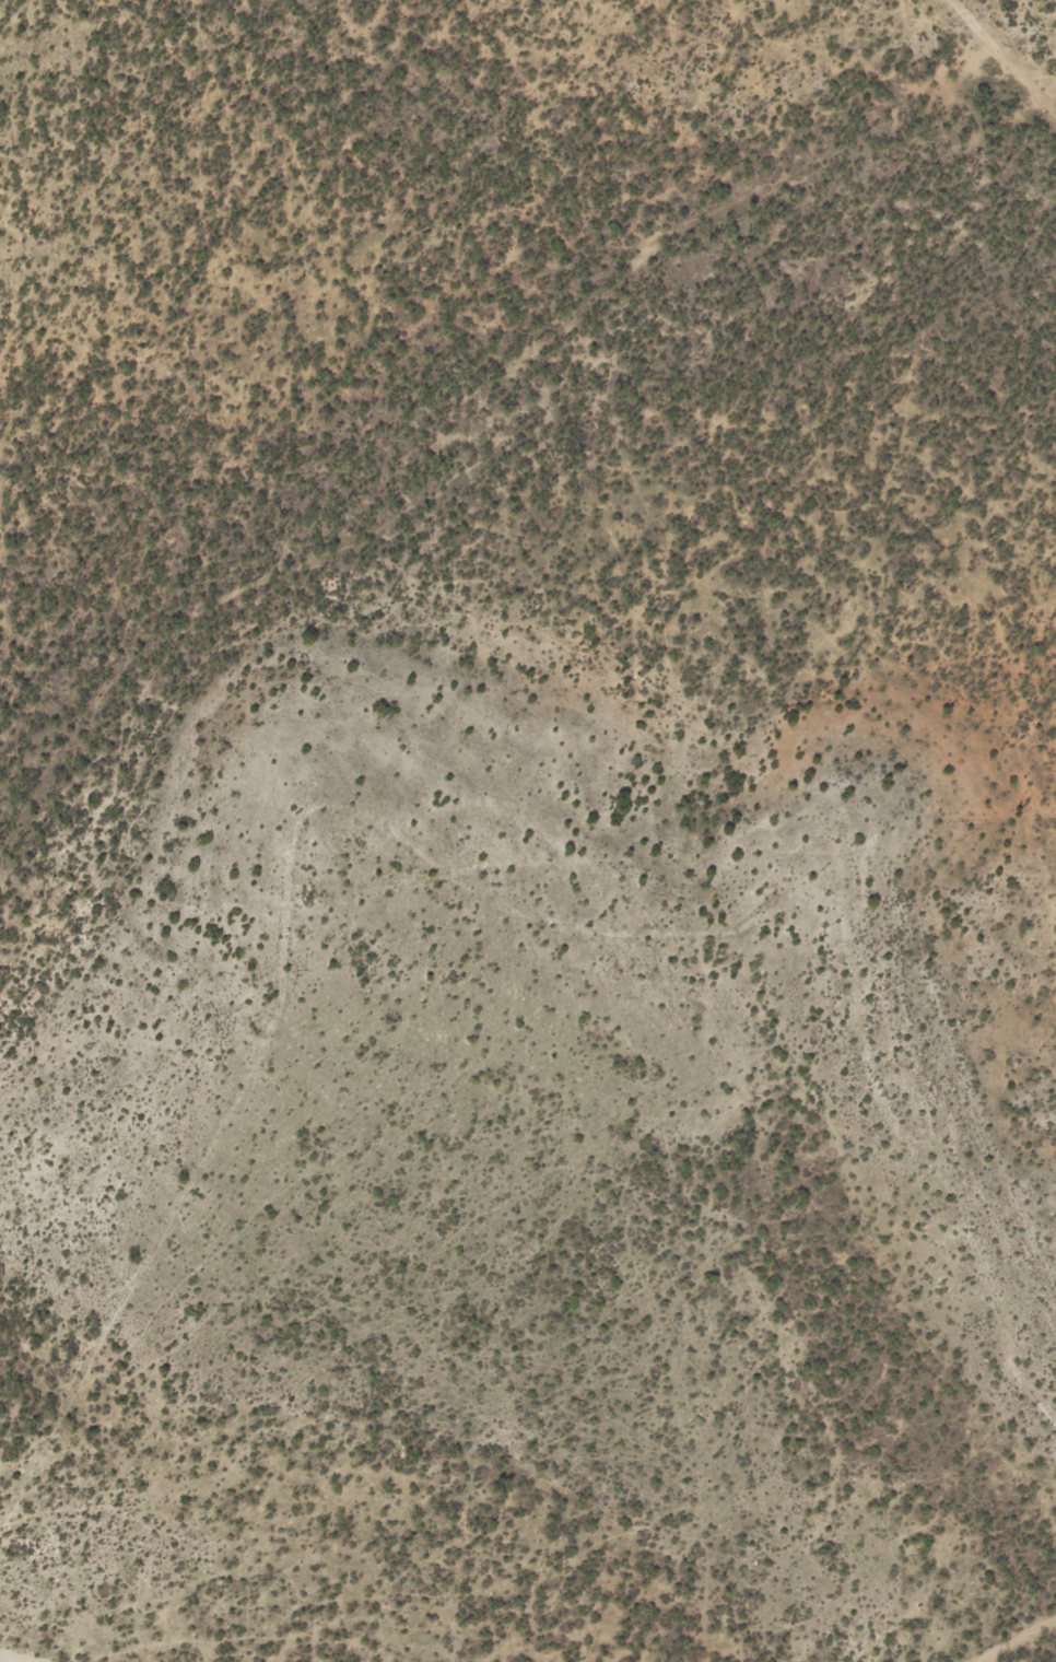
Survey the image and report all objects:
road: (1006, 55)
road: (1018, 1640)
road: (16, 1658)

